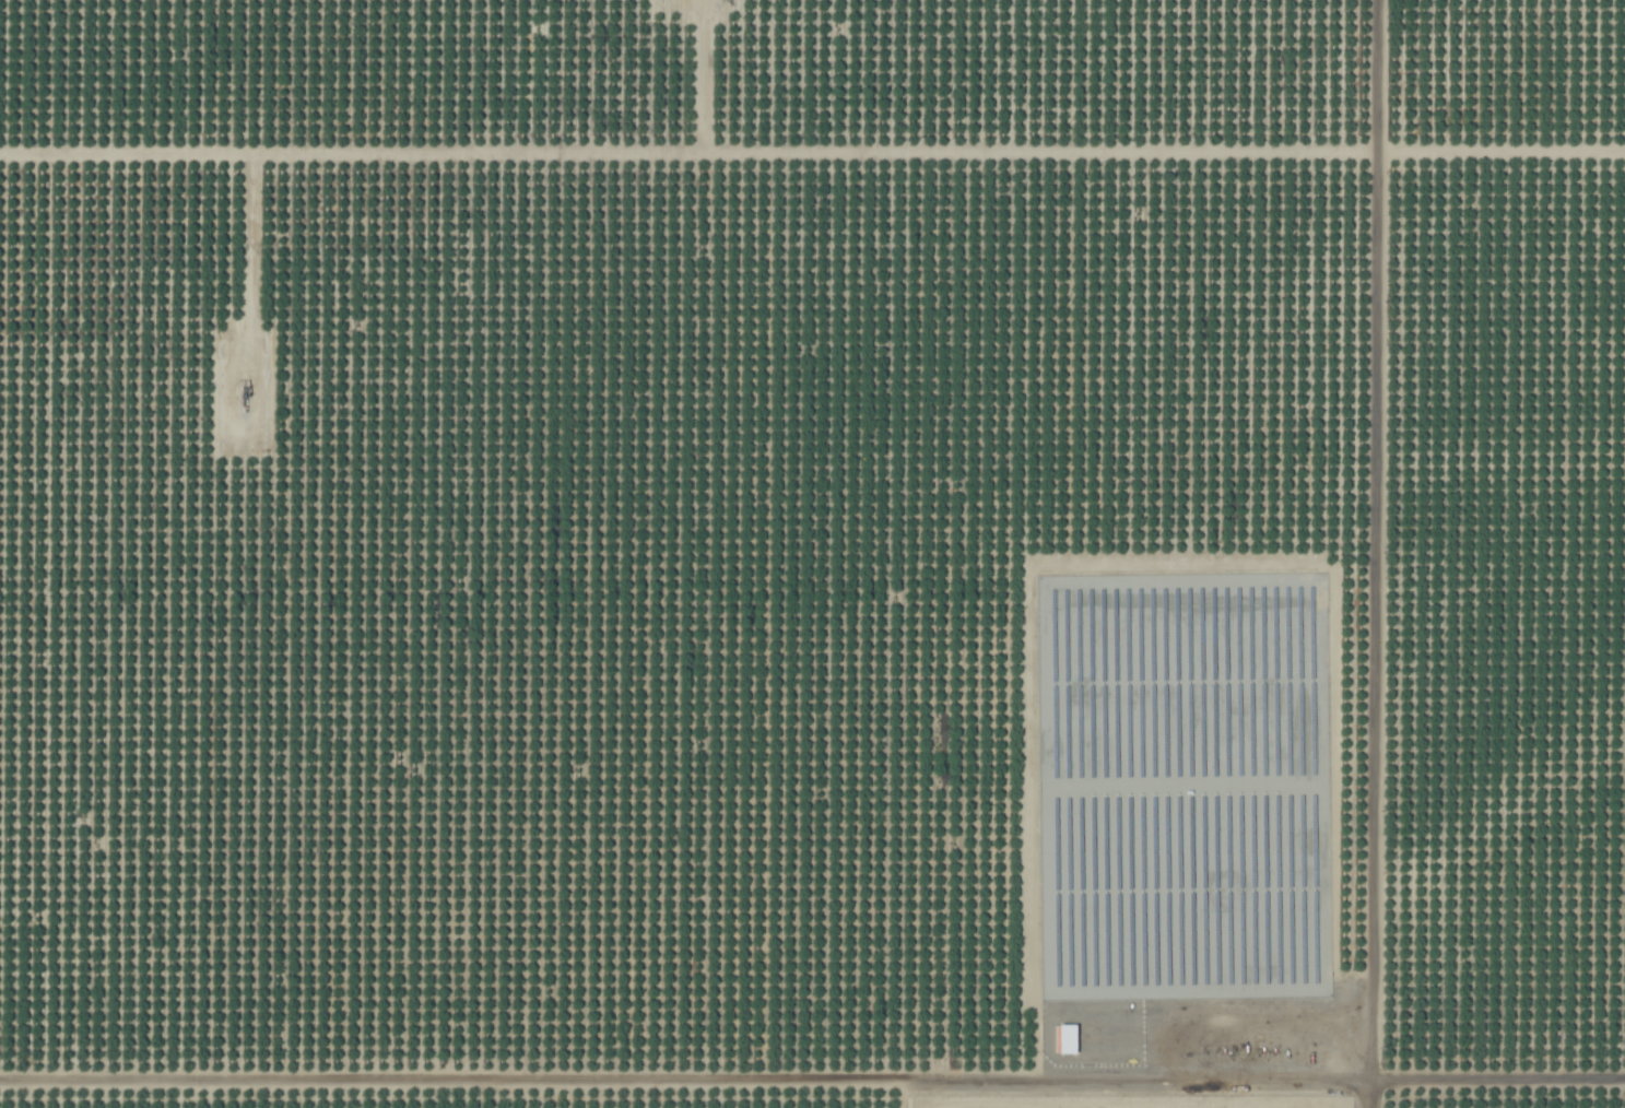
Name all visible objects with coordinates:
solar farm: (1181, 783)
road: (812, 1081)

